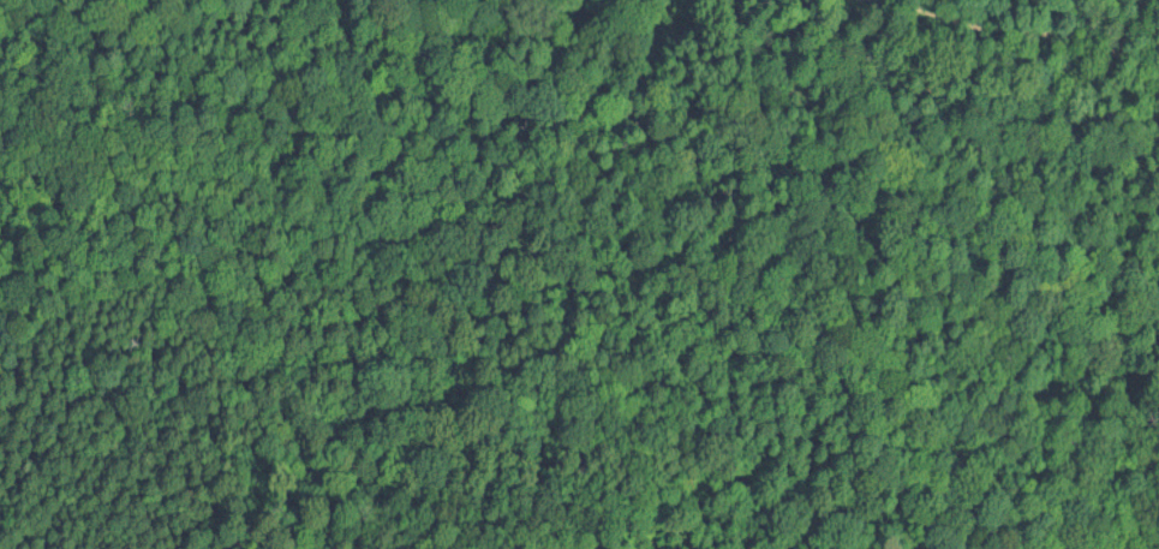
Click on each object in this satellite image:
road: (1016, 31)

